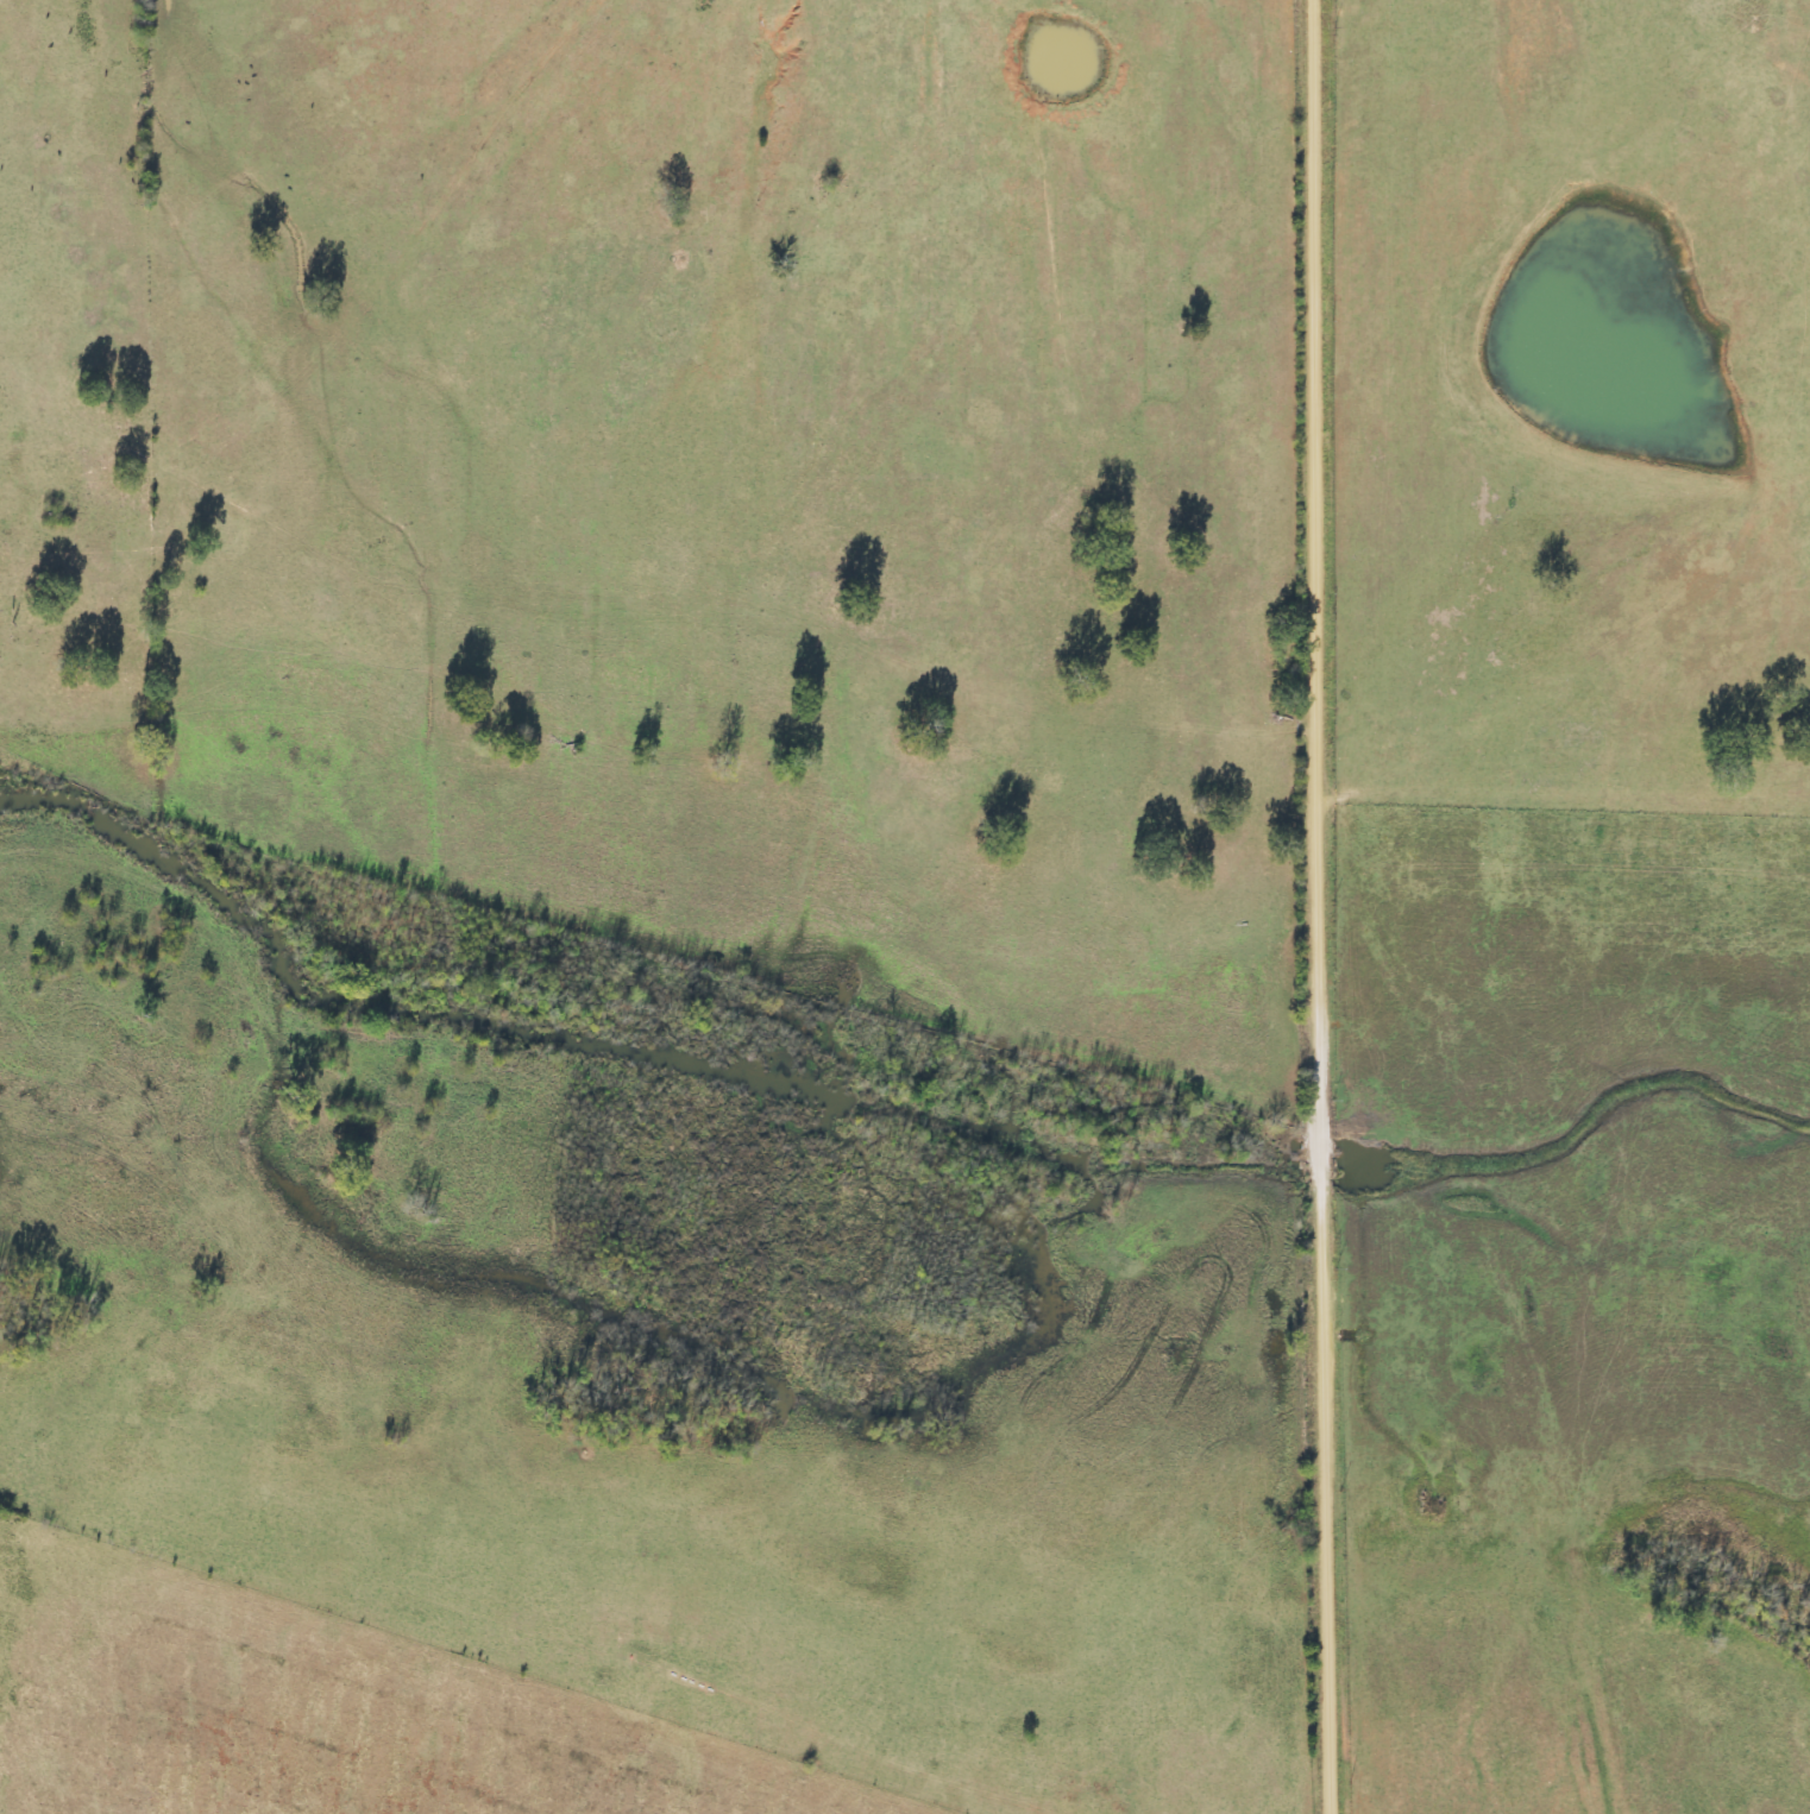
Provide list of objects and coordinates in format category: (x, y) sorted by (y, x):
road: (1314, 907)

